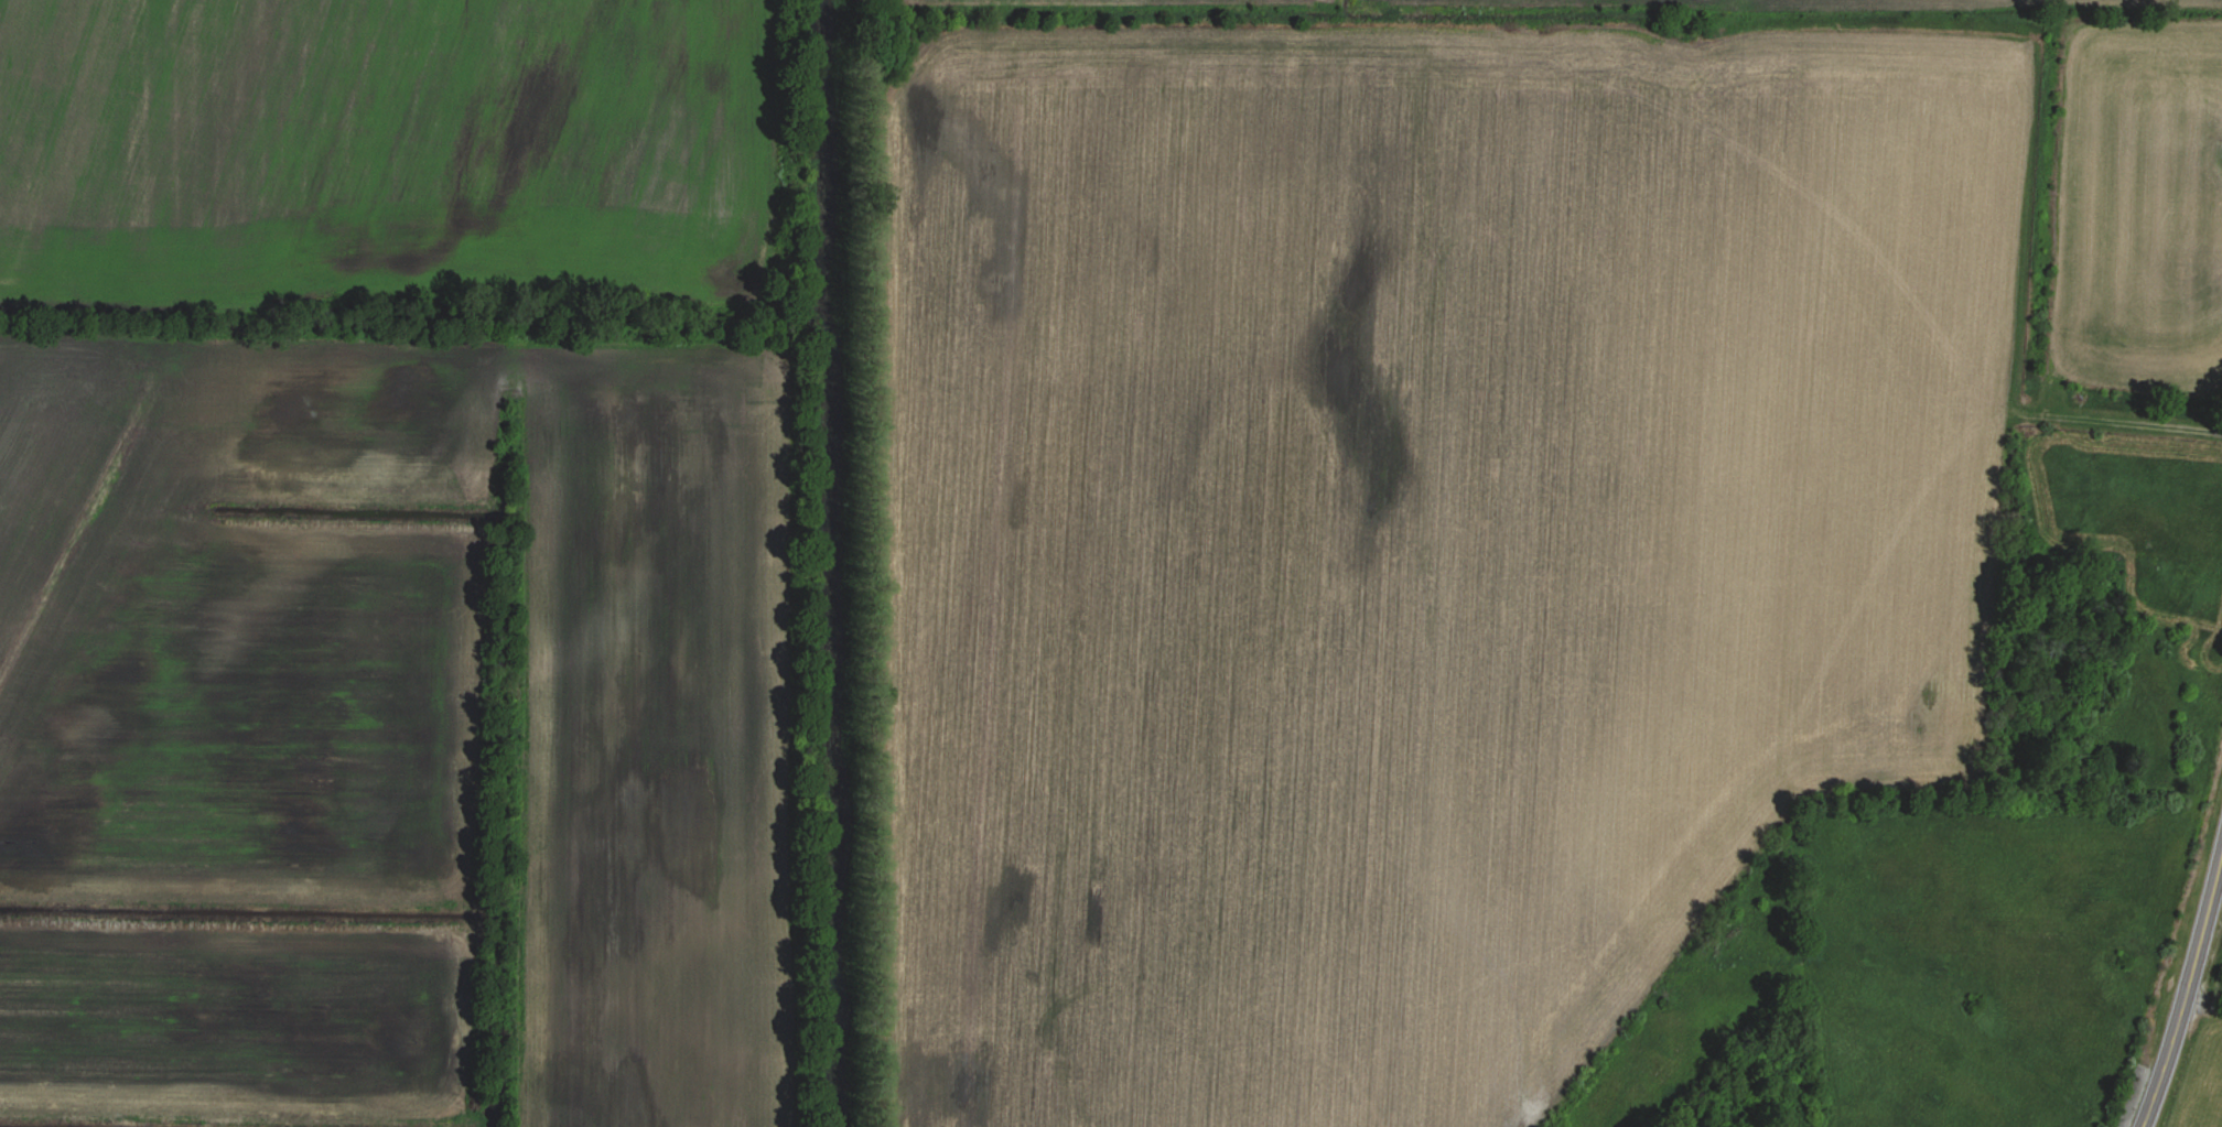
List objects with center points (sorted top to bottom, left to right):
road: (2186, 988)

